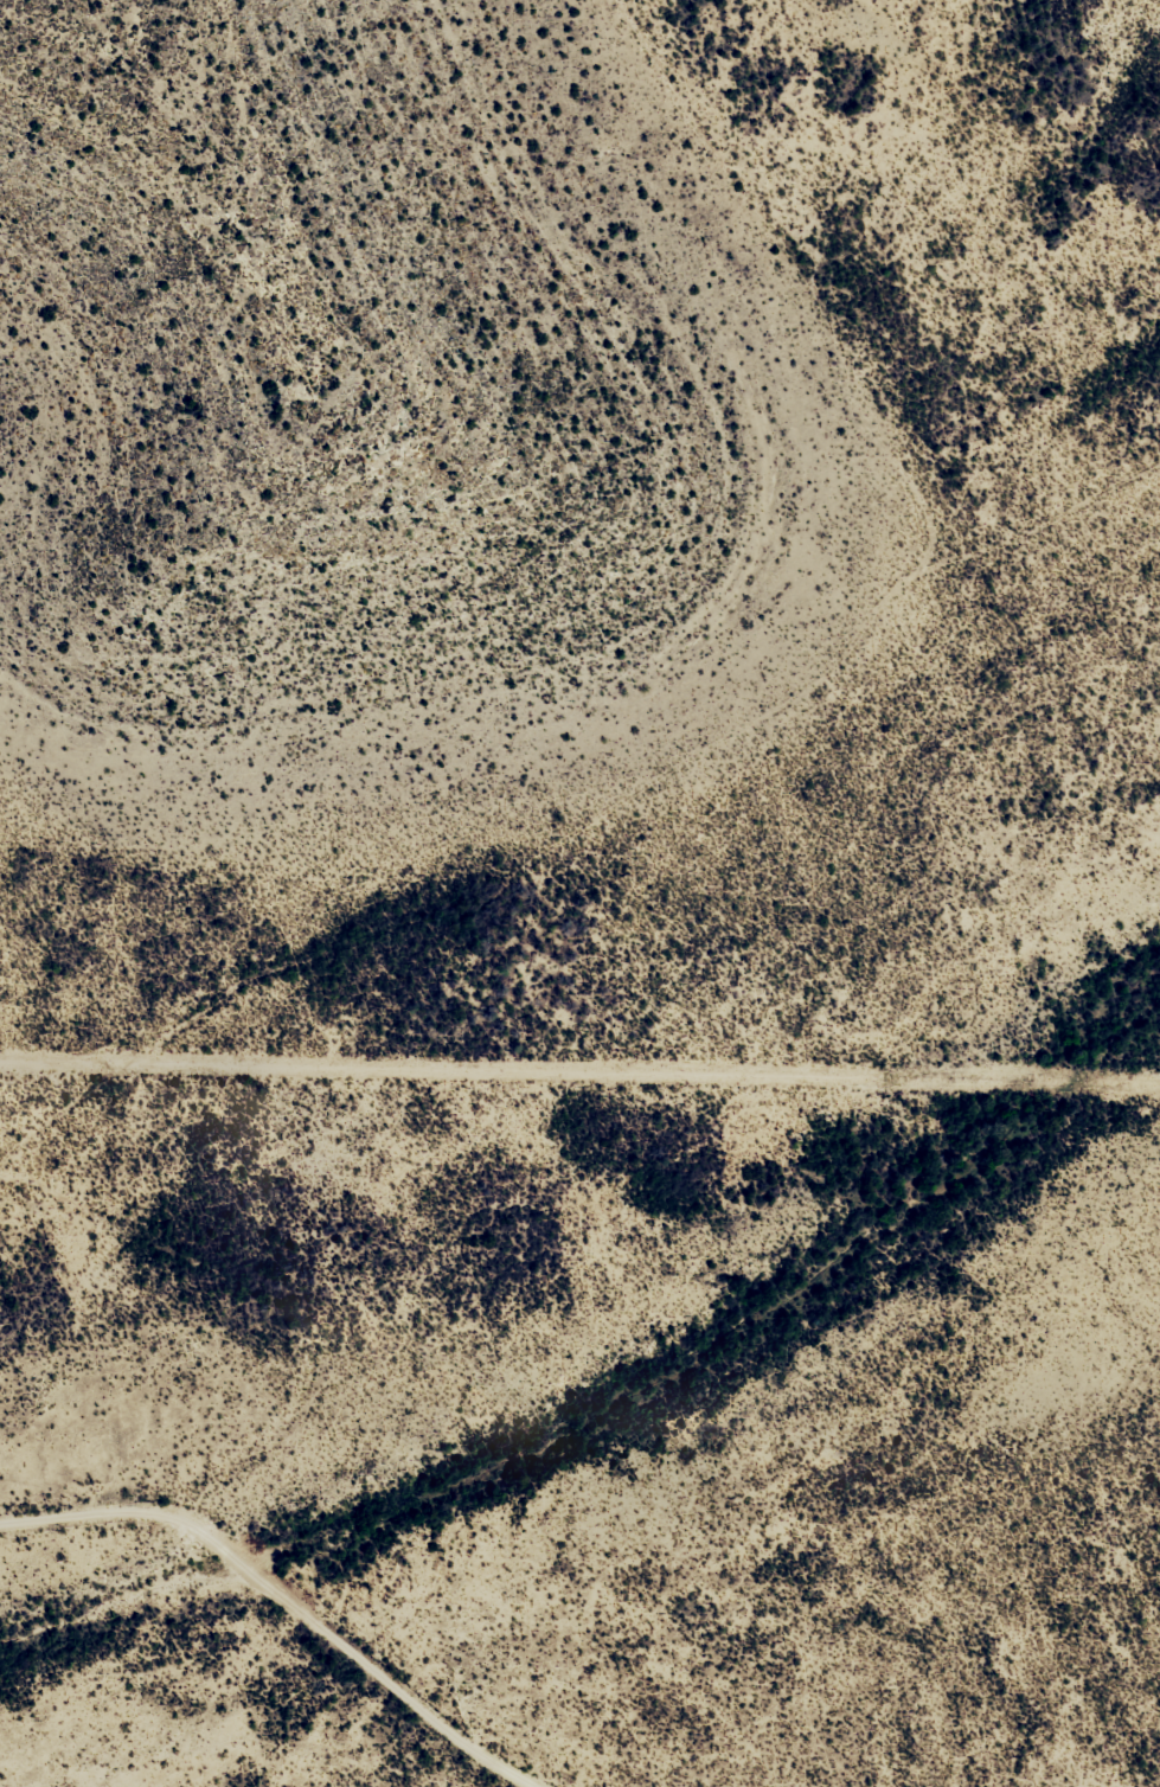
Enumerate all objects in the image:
road: (587, 811)
road: (283, 1609)

